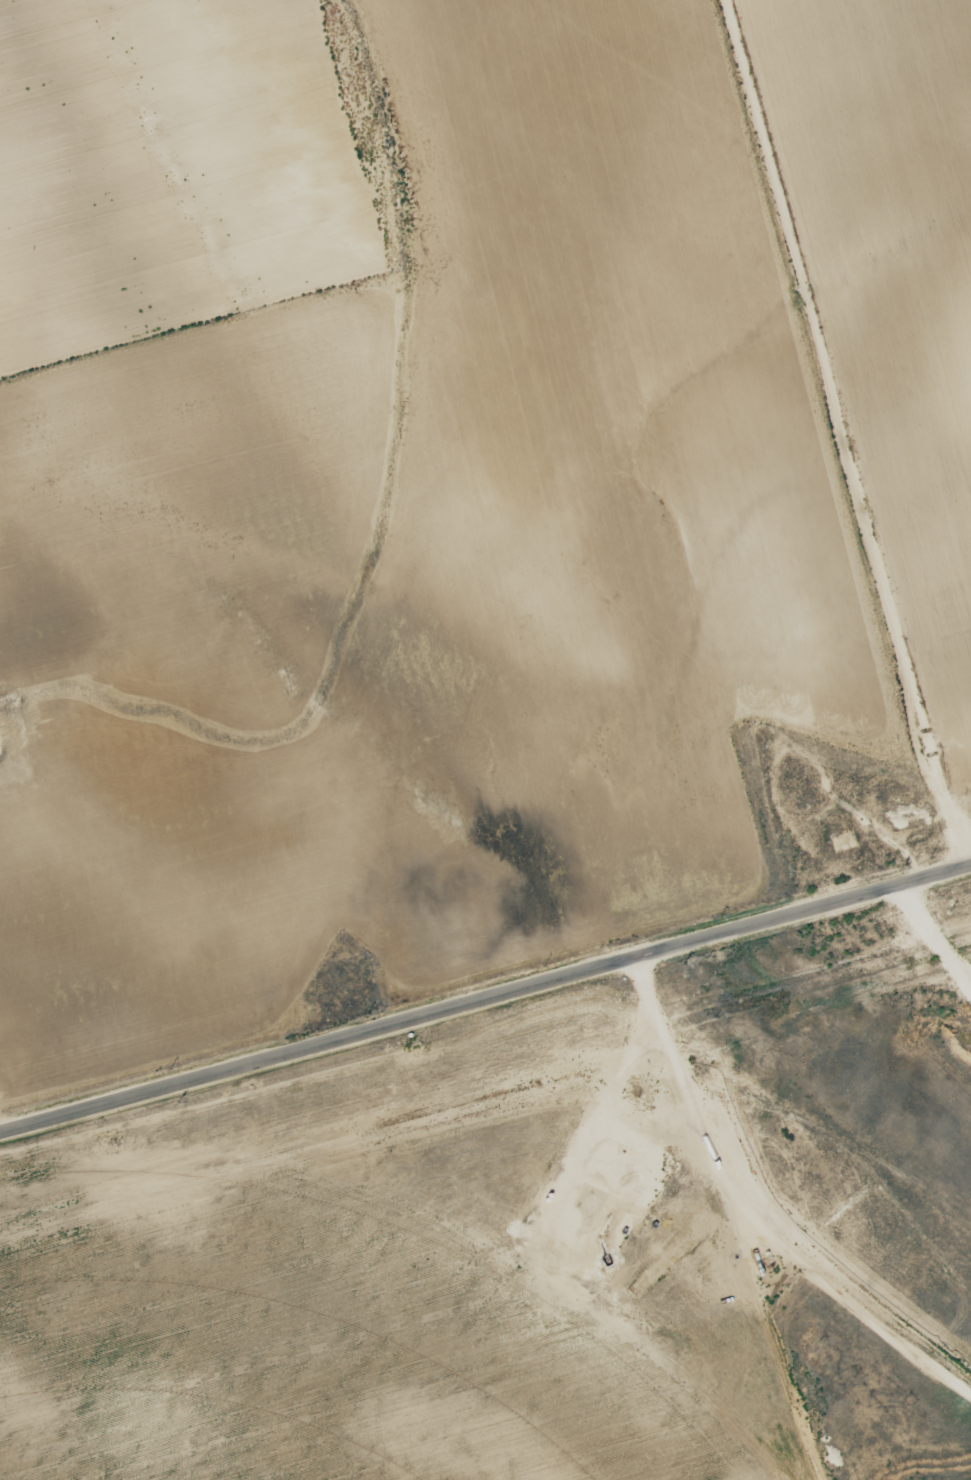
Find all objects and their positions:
river: (426, 654)
road: (934, 939)
road: (484, 989)

